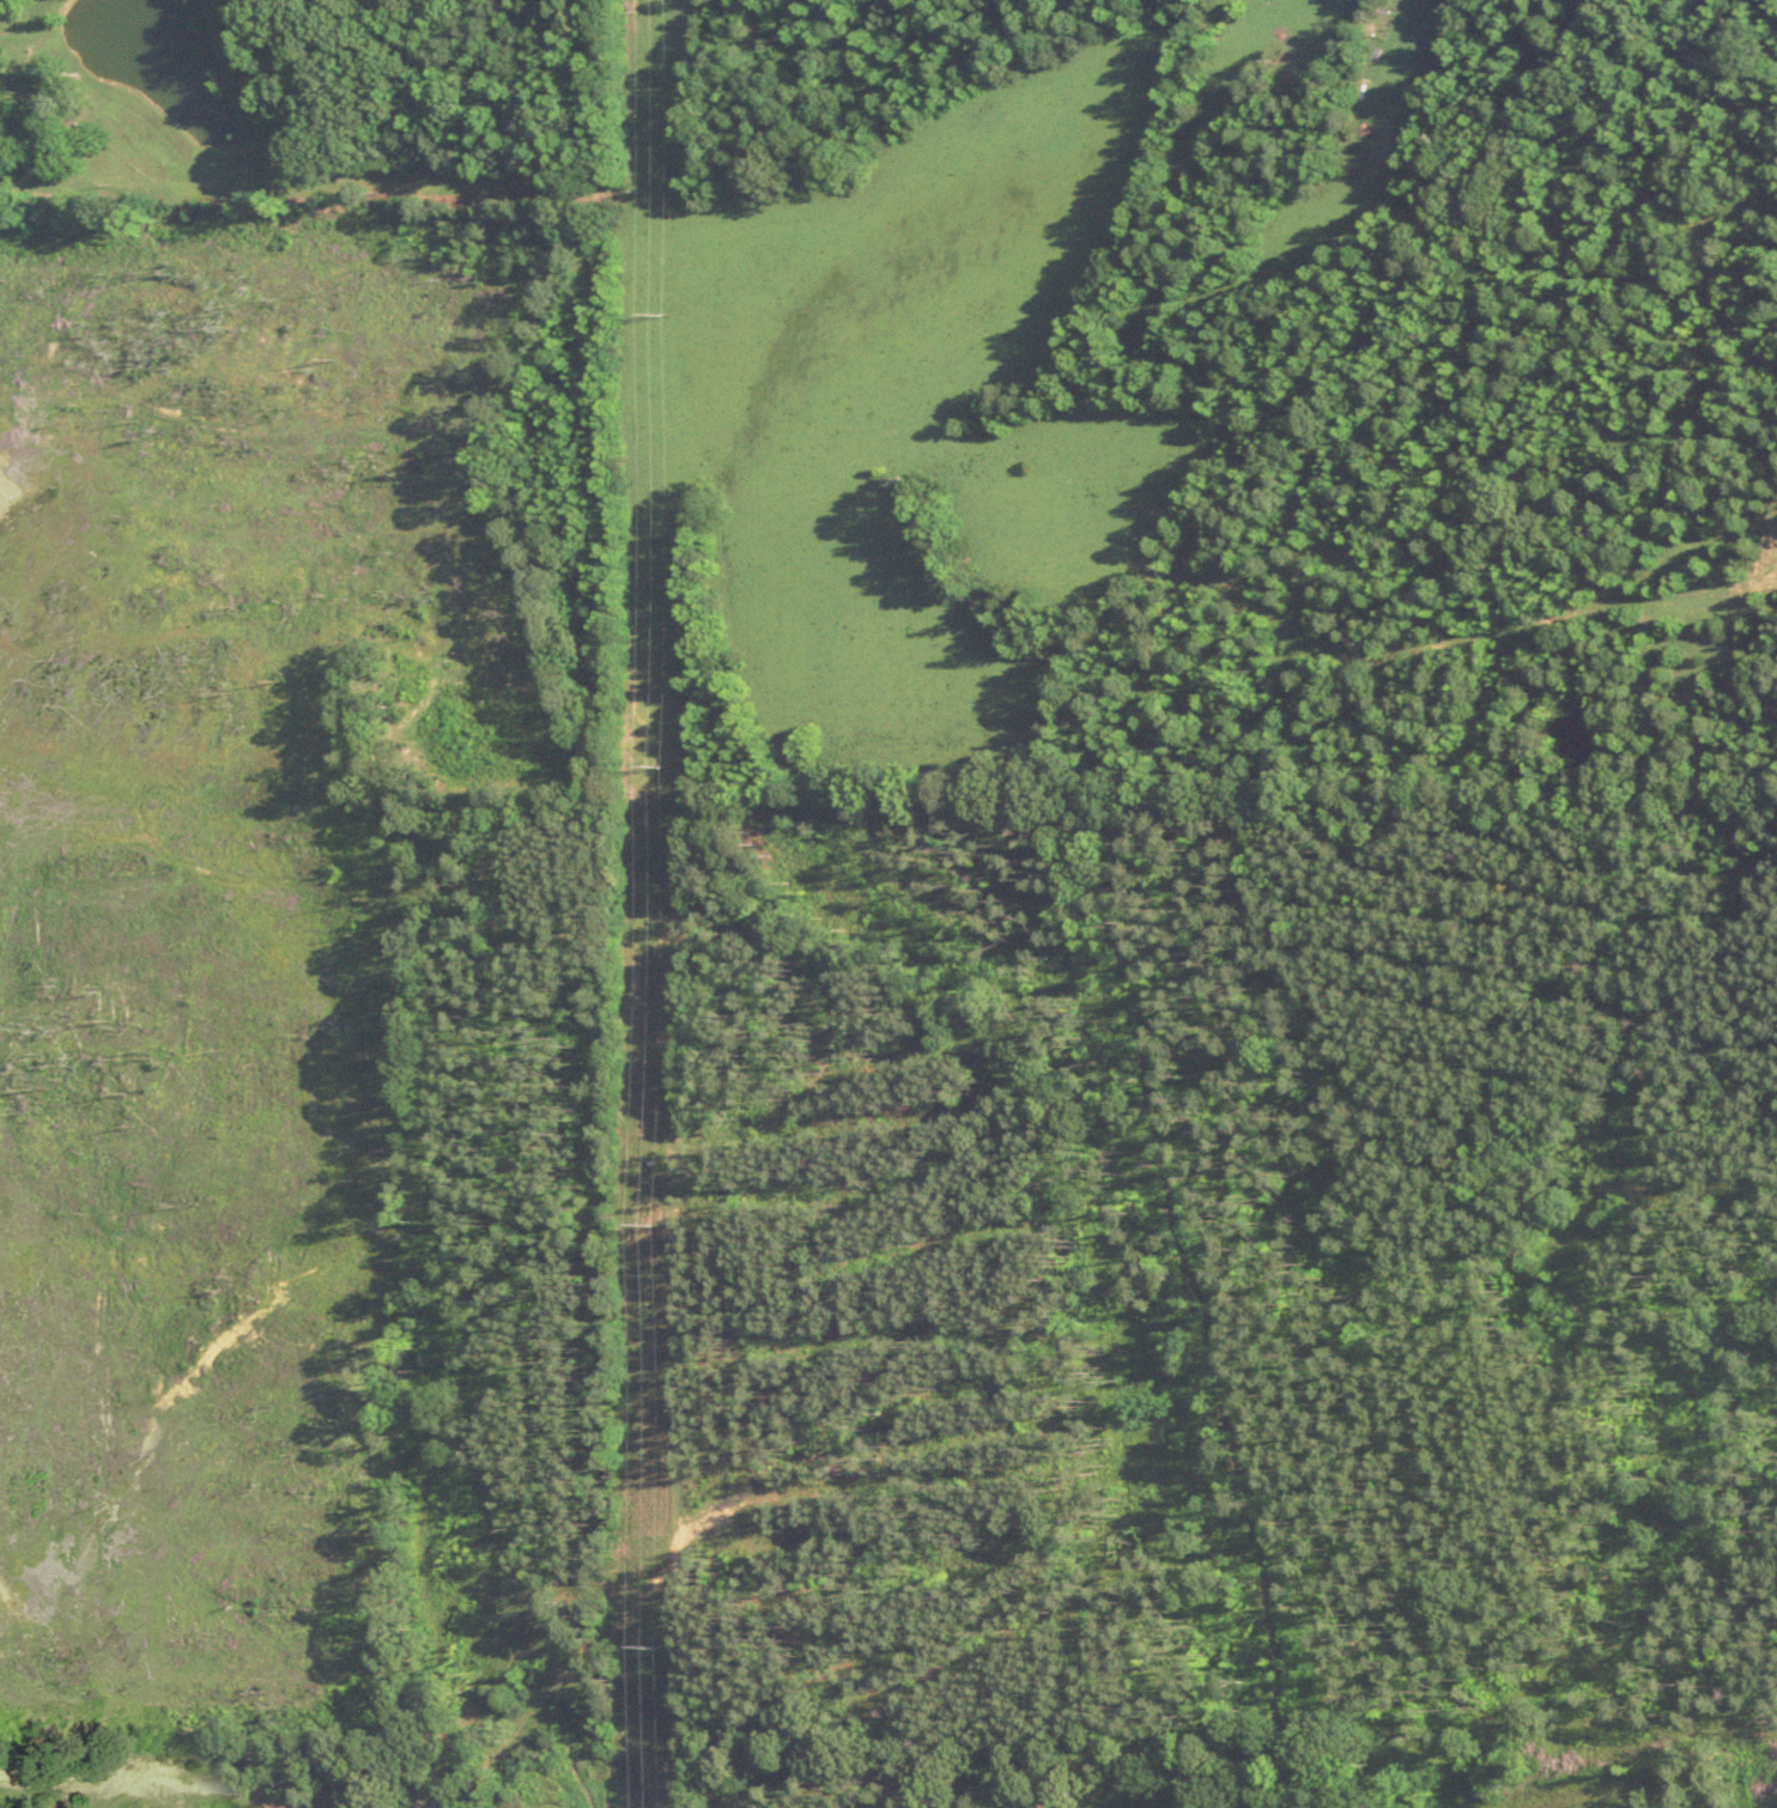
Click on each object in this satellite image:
building: (62, 123)
power tower: (657, 311)
power tower: (659, 764)
power tower: (657, 1222)
power tower: (655, 1645)

